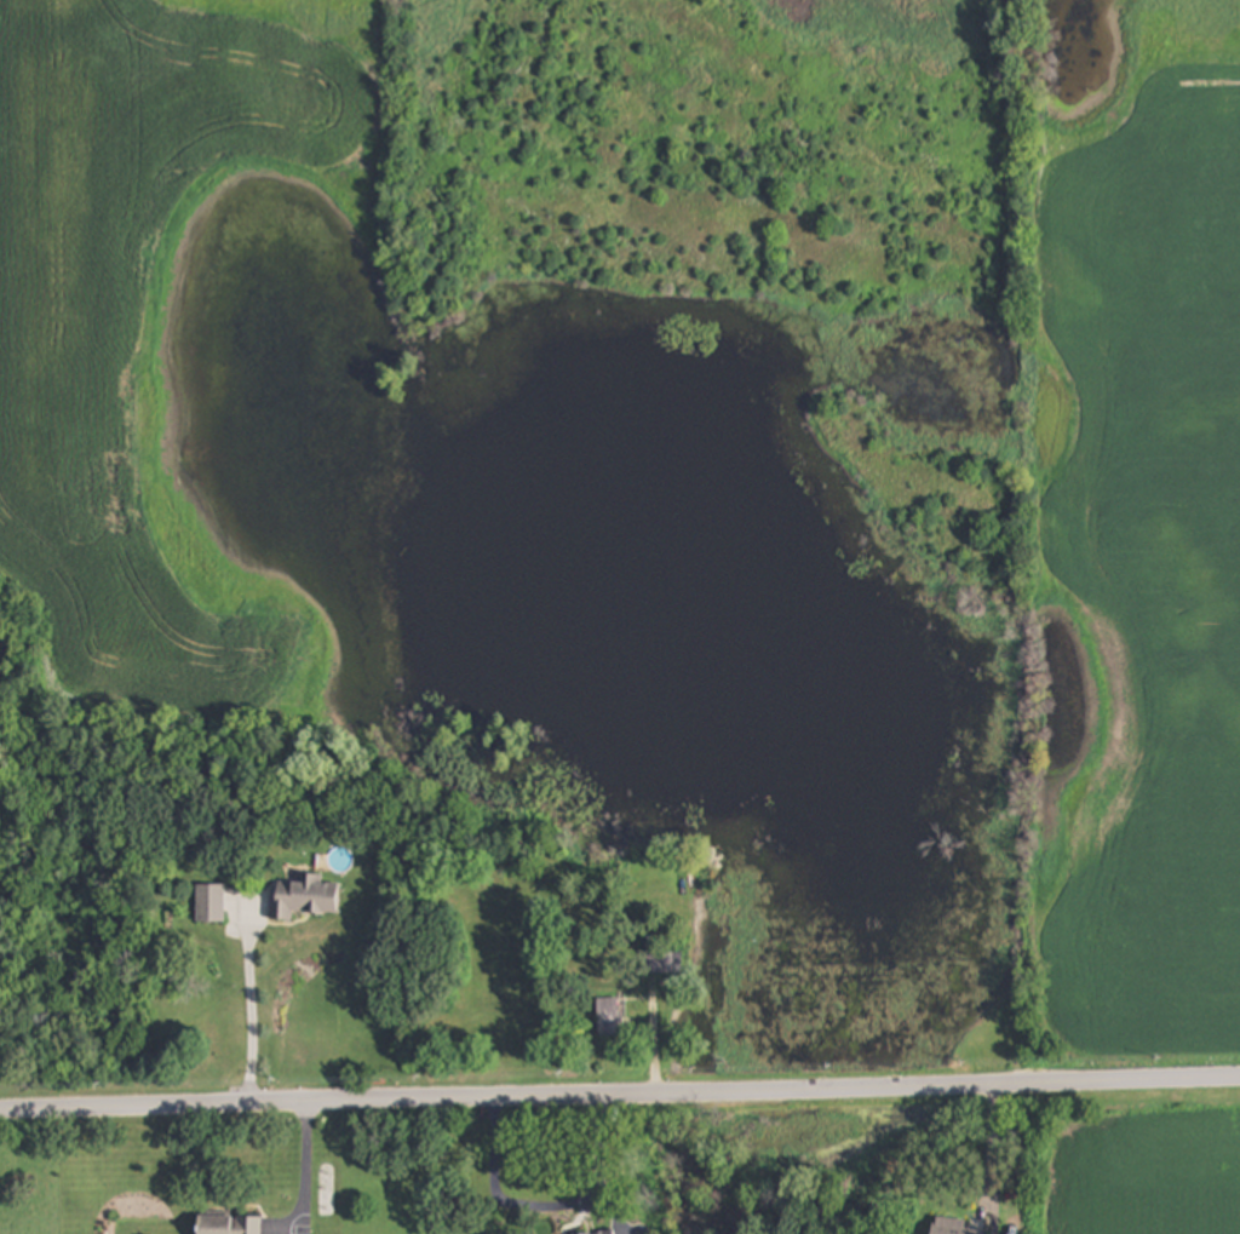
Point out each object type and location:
building: (306, 899)
building: (211, 903)
building: (659, 963)
road: (249, 1009)
building: (610, 1017)
road: (620, 1089)
road: (304, 1166)
road: (512, 1205)
building: (230, 1224)
building: (955, 1227)
building: (607, 1233)

